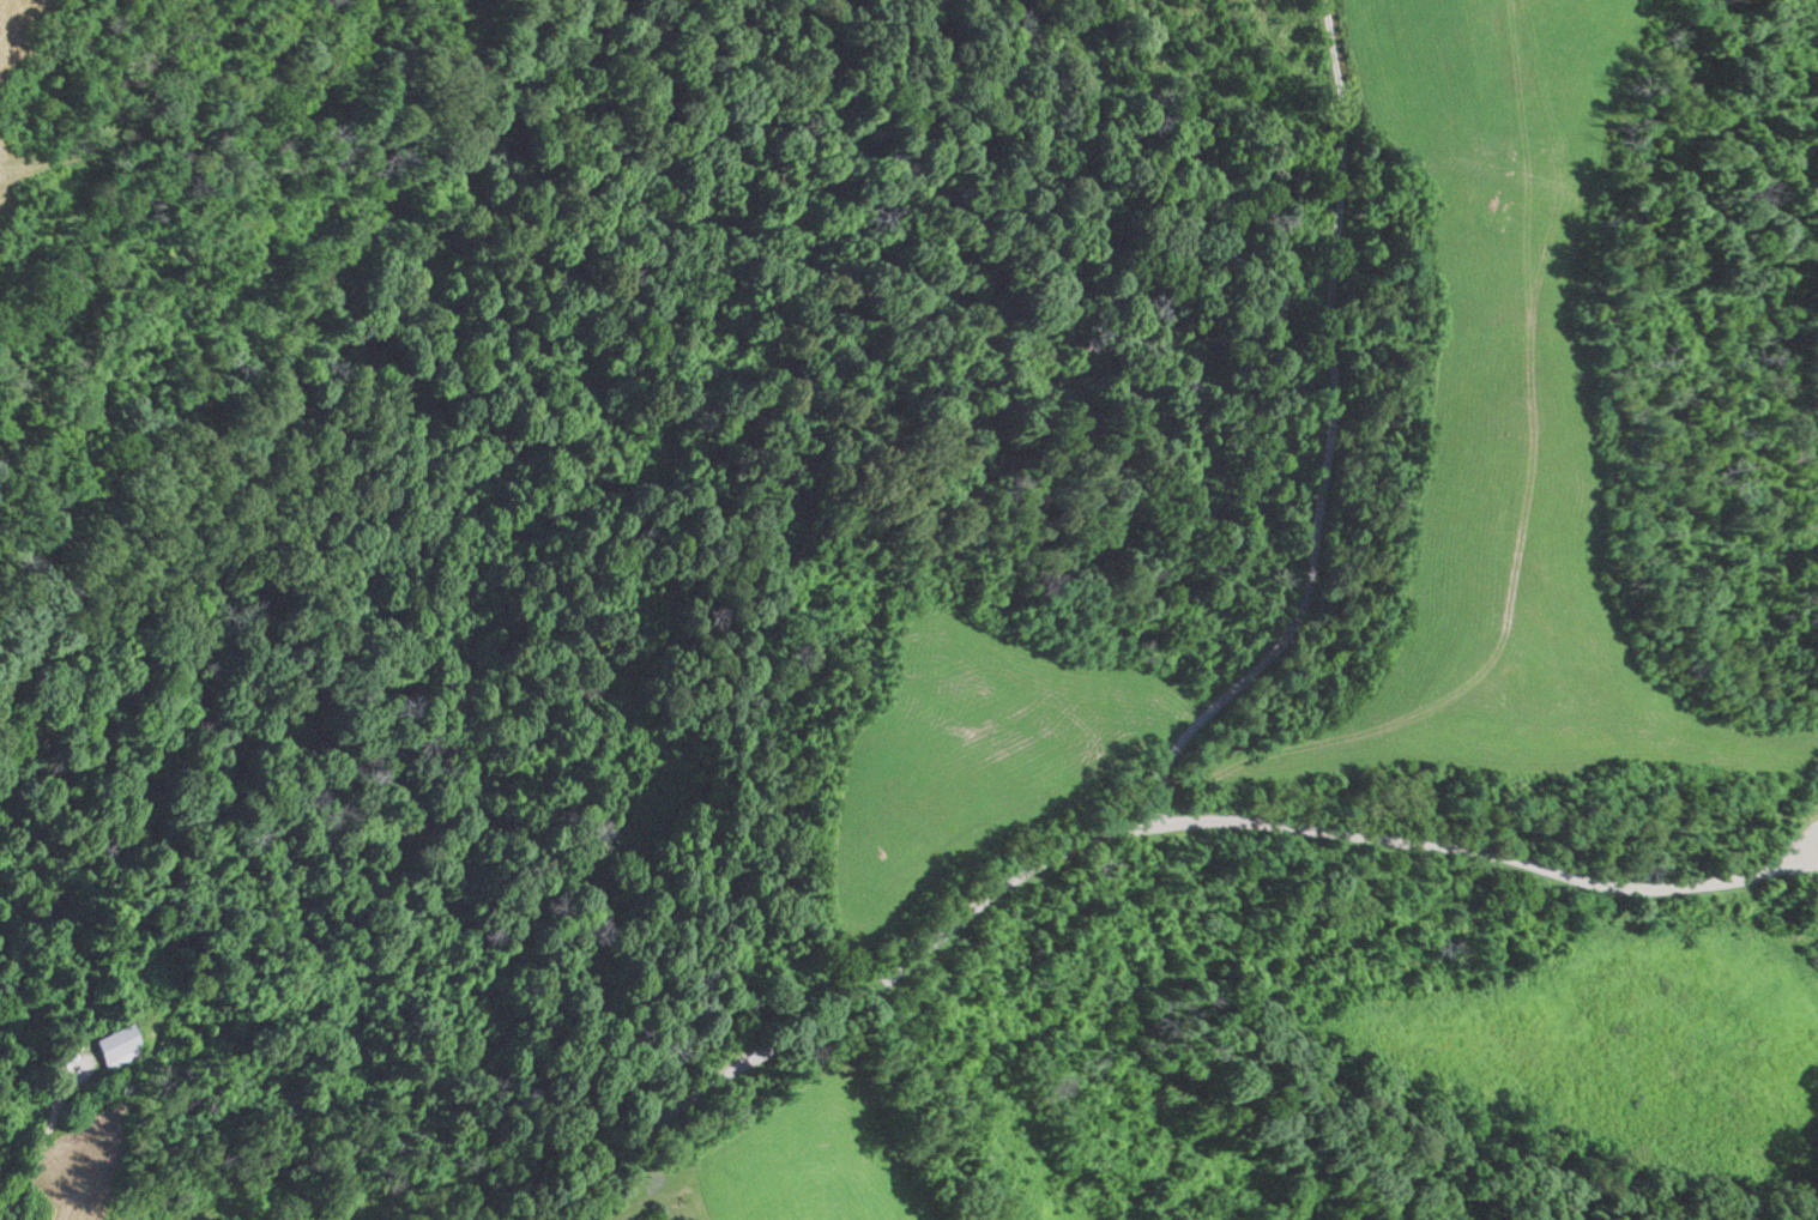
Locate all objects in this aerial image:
road: (1118, 837)
building: (120, 1046)
road: (30, 1170)

